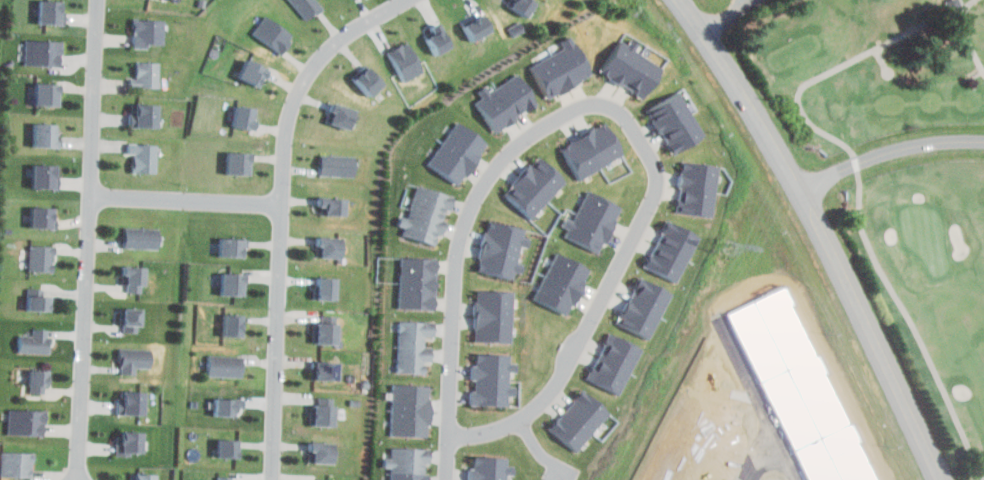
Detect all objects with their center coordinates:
building: (523, 5)
building: (310, 7)
building: (51, 12)
road: (728, 15)
building: (480, 26)
building: (151, 31)
building: (273, 33)
road: (972, 39)
building: (442, 40)
building: (43, 50)
building: (408, 62)
building: (560, 68)
building: (254, 70)
building: (630, 70)
building: (149, 75)
building: (371, 80)
building: (48, 92)
building: (507, 101)
building: (145, 115)
building: (342, 115)
building: (243, 117)
building: (675, 122)
building: (47, 135)
road: (524, 138)
building: (592, 149)
building: (459, 150)
road: (888, 153)
building: (147, 159)
building: (241, 163)
building: (343, 163)
park: (895, 174)
building: (43, 175)
road: (861, 182)
building: (534, 187)
building: (697, 189)
road: (188, 200)
building: (337, 204)
building: (427, 212)
road: (285, 213)
building: (39, 215)
building: (592, 219)
road: (820, 234)
park: (928, 236)
road: (88, 239)
building: (143, 239)
building: (235, 246)
building: (332, 248)
building: (503, 248)
building: (671, 253)
building: (42, 258)
building: (133, 272)
building: (419, 281)
building: (563, 281)
building: (236, 282)
building: (329, 287)
building: (39, 298)
building: (644, 308)
building: (131, 314)
building: (495, 316)
building: (235, 324)
building: (329, 332)
building: (36, 340)
building: (414, 347)
building: (134, 359)
building: (614, 359)
building: (227, 364)
building: (326, 368)
building: (37, 375)
building: (494, 381)
building: (801, 389)
building: (134, 401)
building: (228, 406)
building: (411, 409)
road: (532, 411)
building: (325, 414)
building: (582, 419)
building: (25, 421)
building: (129, 443)
building: (229, 448)
building: (321, 451)
road: (542, 451)
road: (780, 459)
building: (16, 463)
building: (409, 464)
building: (490, 468)
building: (143, 477)

